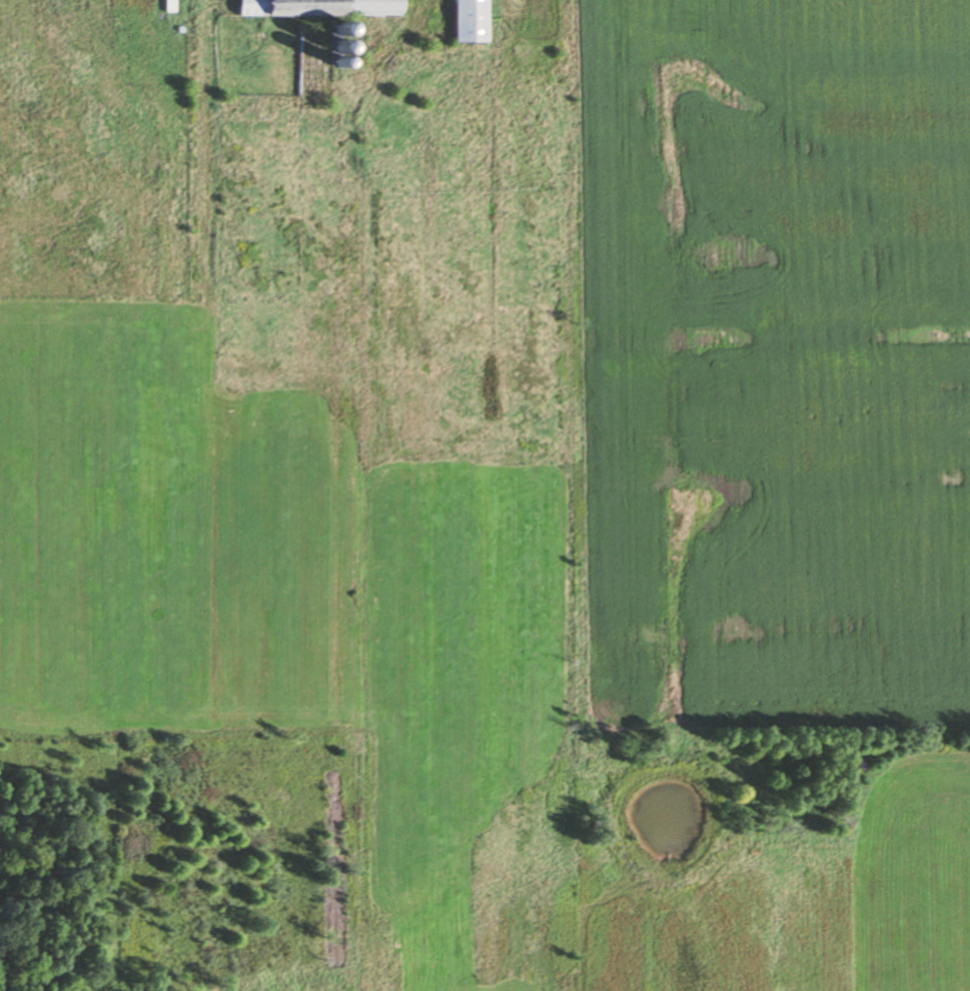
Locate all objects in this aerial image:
building: (314, 6)
building: (465, 19)

